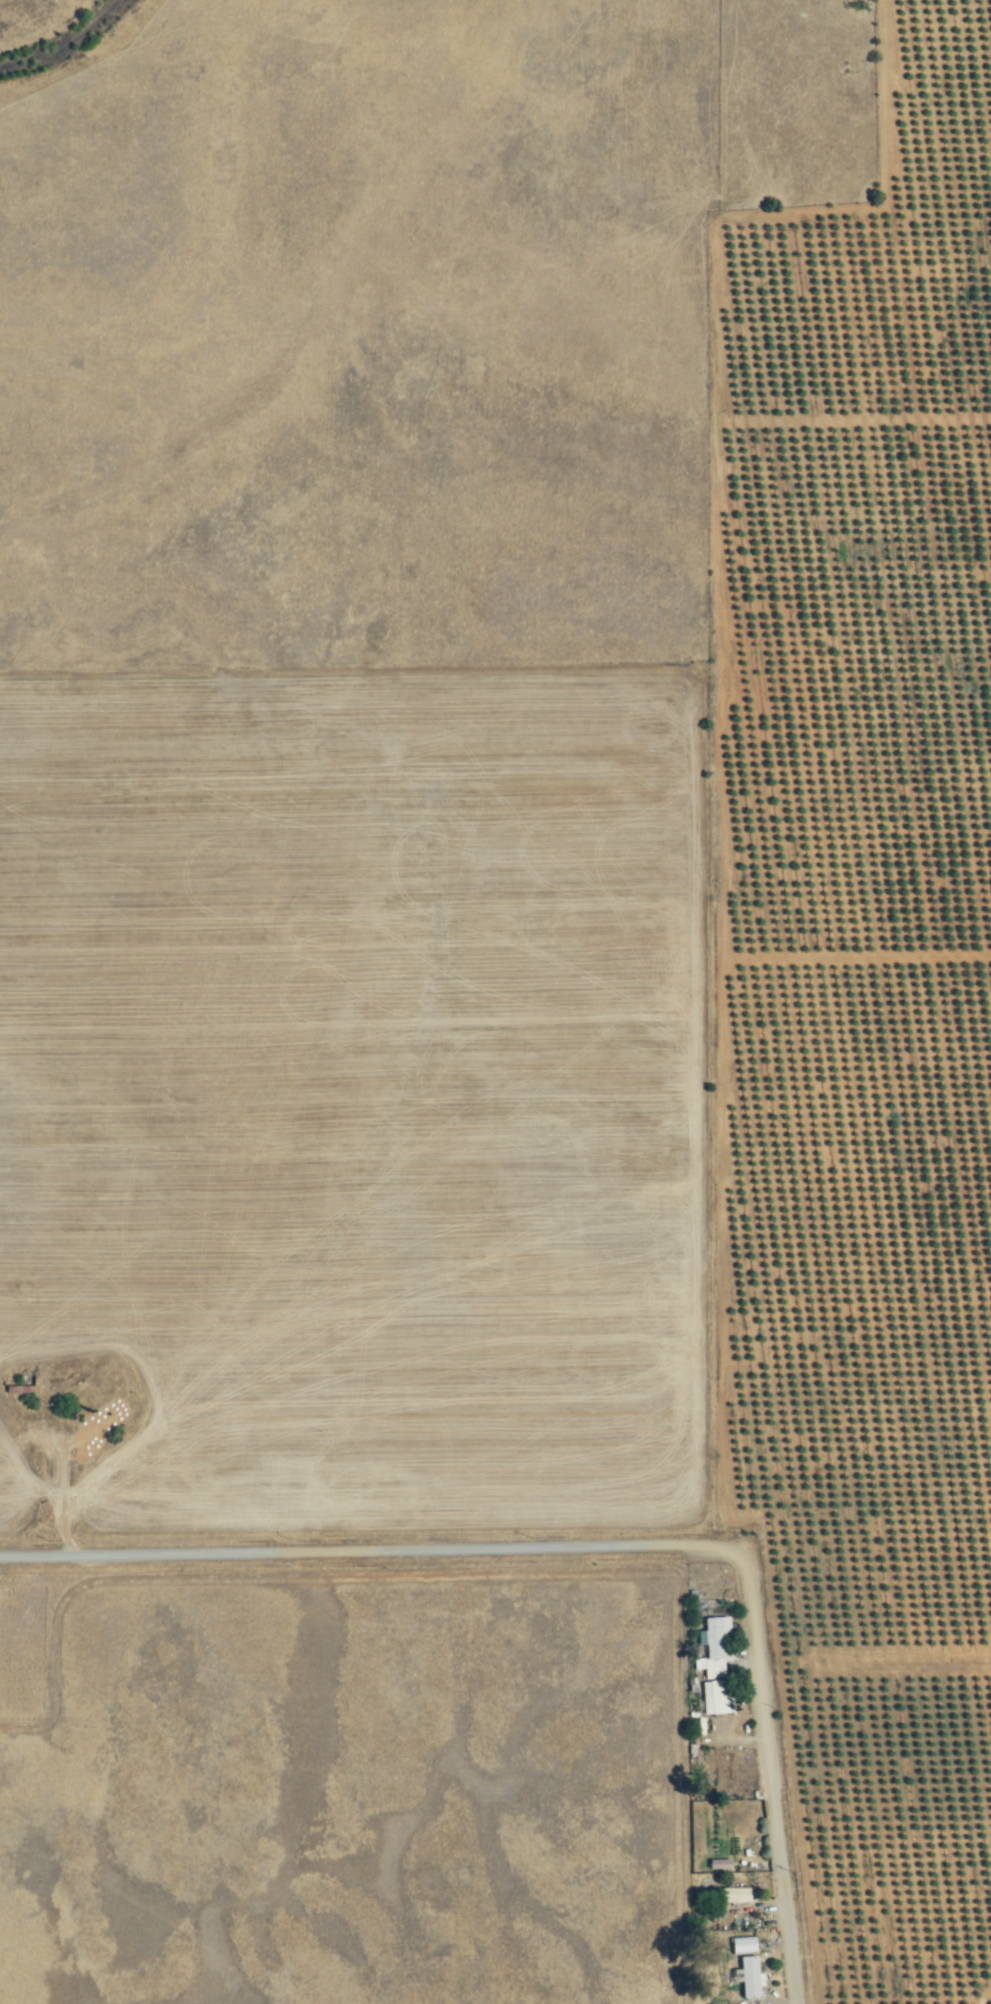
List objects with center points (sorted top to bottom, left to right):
road: (596, 1547)
building: (735, 1895)
building: (743, 1946)
building: (750, 1978)

